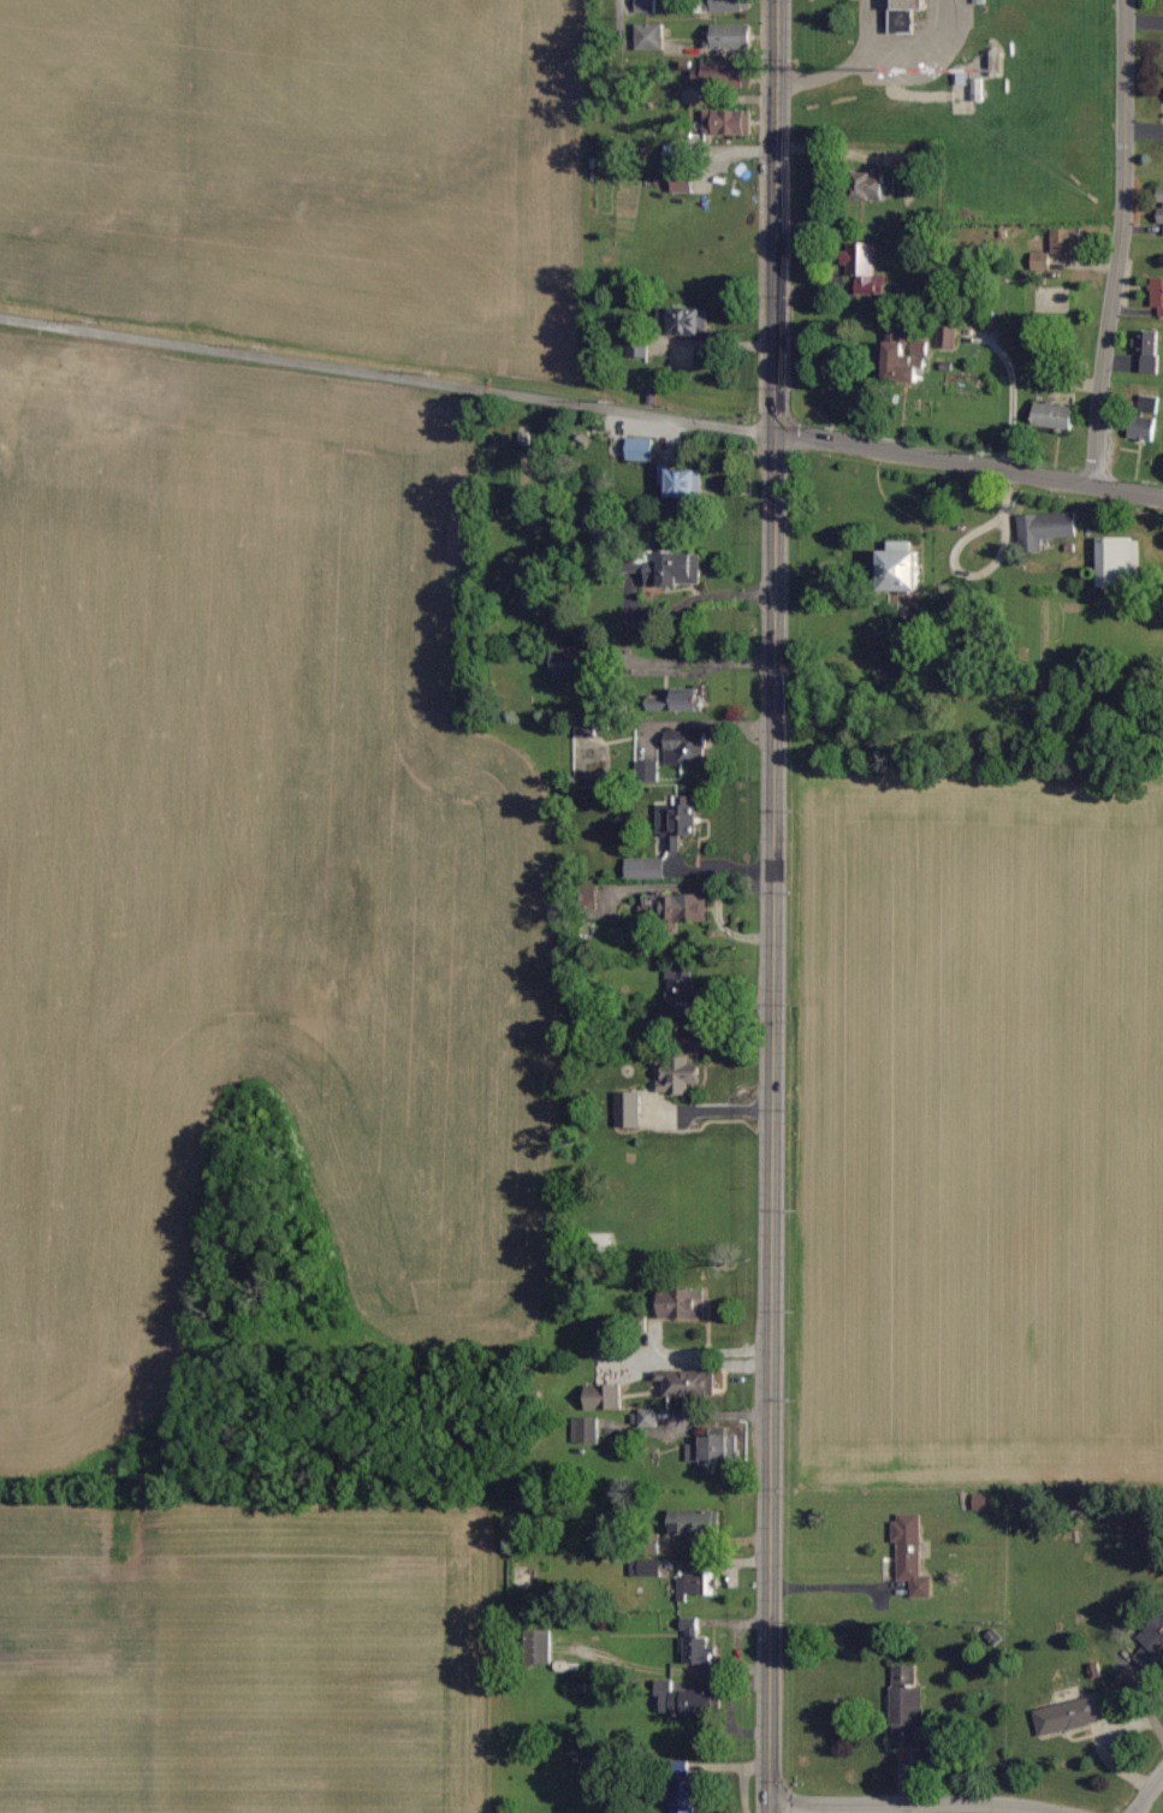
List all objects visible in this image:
building: (979, 1)
building: (732, 5)
building: (645, 6)
building: (907, 14)
road: (616, 18)
building: (649, 36)
building: (734, 36)
road: (849, 63)
building: (724, 75)
building: (731, 123)
building: (912, 162)
building: (682, 182)
building: (873, 186)
building: (1161, 205)
building: (1069, 241)
road: (1116, 241)
building: (1042, 261)
building: (865, 269)
building: (1158, 294)
building: (692, 322)
building: (948, 337)
building: (639, 345)
building: (1149, 351)
building: (907, 359)
road: (390, 372)
road: (1011, 396)
building: (1055, 415)
building: (1144, 427)
building: (640, 449)
road: (971, 462)
building: (684, 481)
building: (1046, 528)
road: (951, 558)
building: (1119, 559)
building: (906, 565)
building: (676, 568)
building: (570, 660)
building: (682, 700)
building: (591, 728)
building: (686, 747)
building: (647, 770)
building: (676, 819)
building: (646, 867)
road: (776, 906)
building: (686, 907)
building: (682, 995)
building: (680, 1074)
building: (629, 1109)
building: (683, 1303)
building: (687, 1382)
building: (605, 1397)
building: (648, 1417)
building: (586, 1430)
building: (713, 1452)
building: (984, 1500)
building: (696, 1522)
building: (912, 1553)
building: (695, 1583)
building: (692, 1627)
building: (1151, 1641)
building: (539, 1647)
building: (700, 1651)
building: (692, 1702)
building: (907, 1705)
building: (1070, 1716)
road: (1150, 1794)
building: (683, 1797)
road: (920, 1802)

